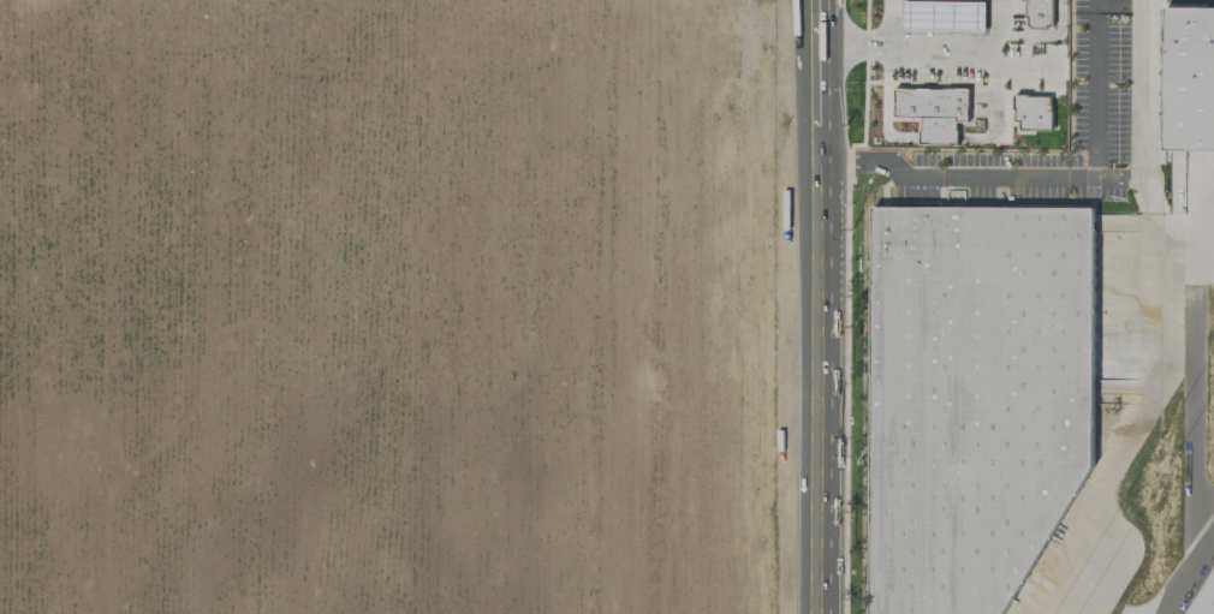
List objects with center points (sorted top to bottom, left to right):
building: (1039, 12)
building: (942, 16)
road: (889, 23)
road: (814, 32)
road: (928, 47)
road: (1028, 64)
road: (1097, 67)
building: (1188, 78)
road: (814, 90)
road: (993, 93)
road: (883, 106)
building: (933, 111)
building: (1031, 112)
road: (938, 136)
road: (975, 136)
road: (976, 177)
road: (1160, 317)
road: (815, 363)
building: (981, 400)
road: (1184, 570)
building: (1212, 574)

